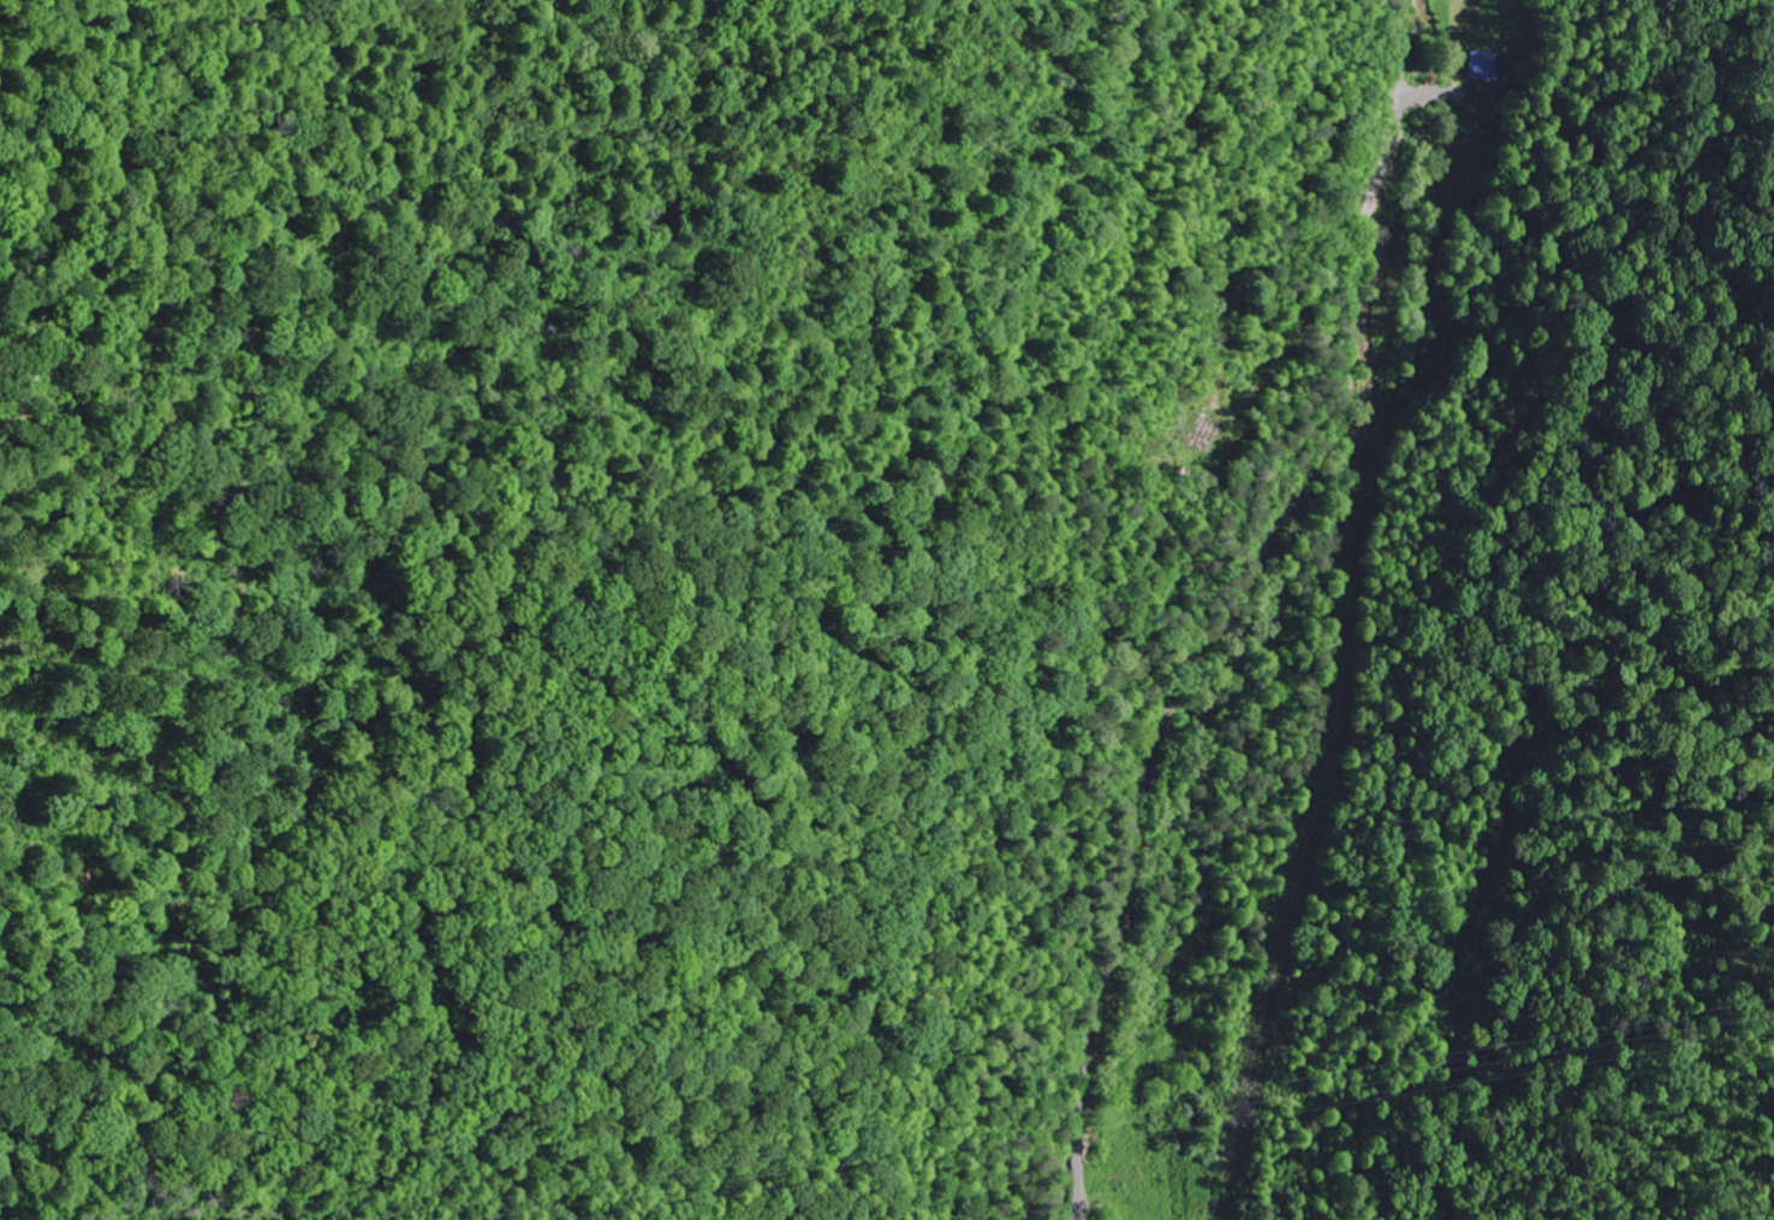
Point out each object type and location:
building: (1483, 66)
road: (1232, 606)

